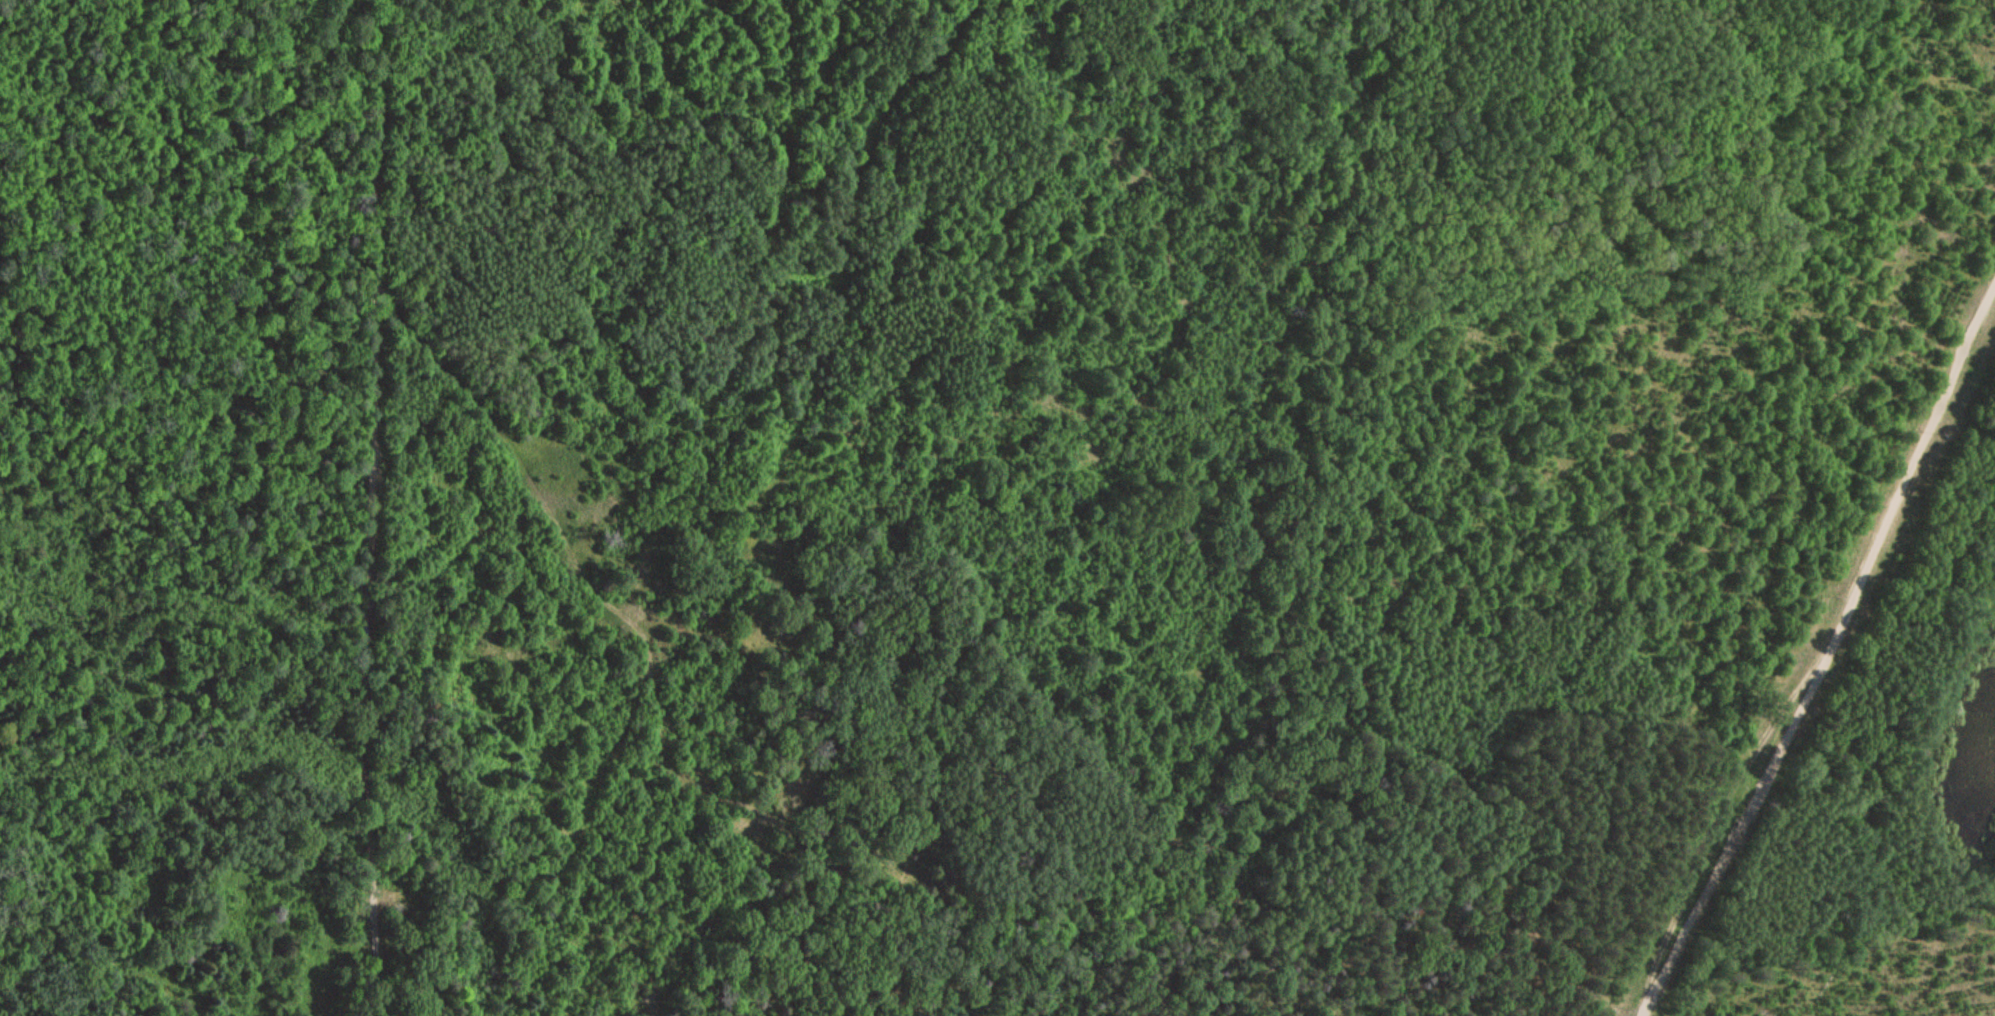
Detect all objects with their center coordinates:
road: (375, 508)
road: (1822, 652)
road: (691, 770)

